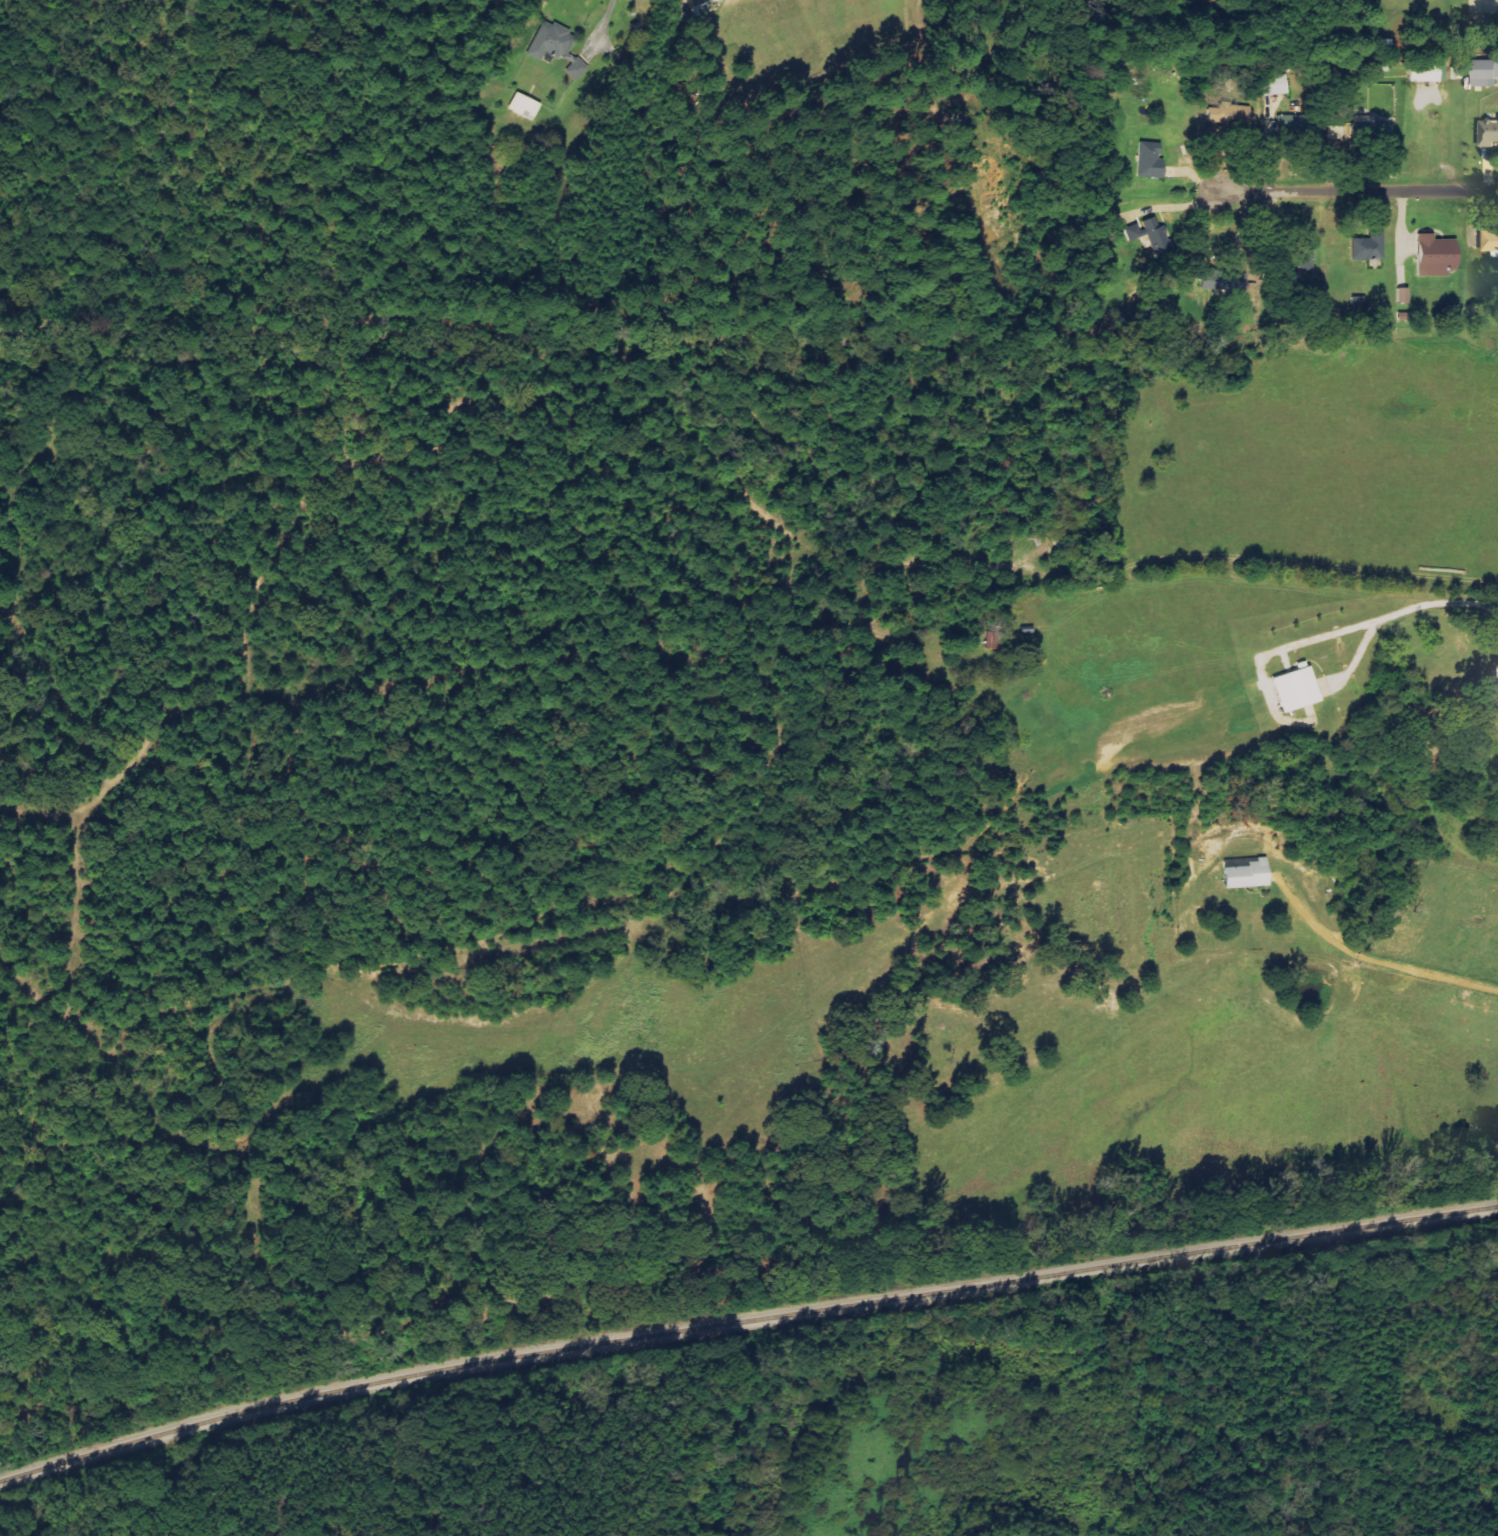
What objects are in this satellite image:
road: (1486, 3)
building: (557, 45)
building: (1427, 71)
building: (1486, 72)
building: (1275, 83)
building: (525, 105)
building: (1372, 125)
building: (1489, 132)
building: (1150, 159)
road: (1357, 190)
building: (1150, 232)
building: (1490, 240)
building: (1367, 246)
building: (1436, 254)
building: (1224, 280)
building: (1403, 294)
building: (1296, 688)
building: (1246, 872)
railway: (744, 1320)

